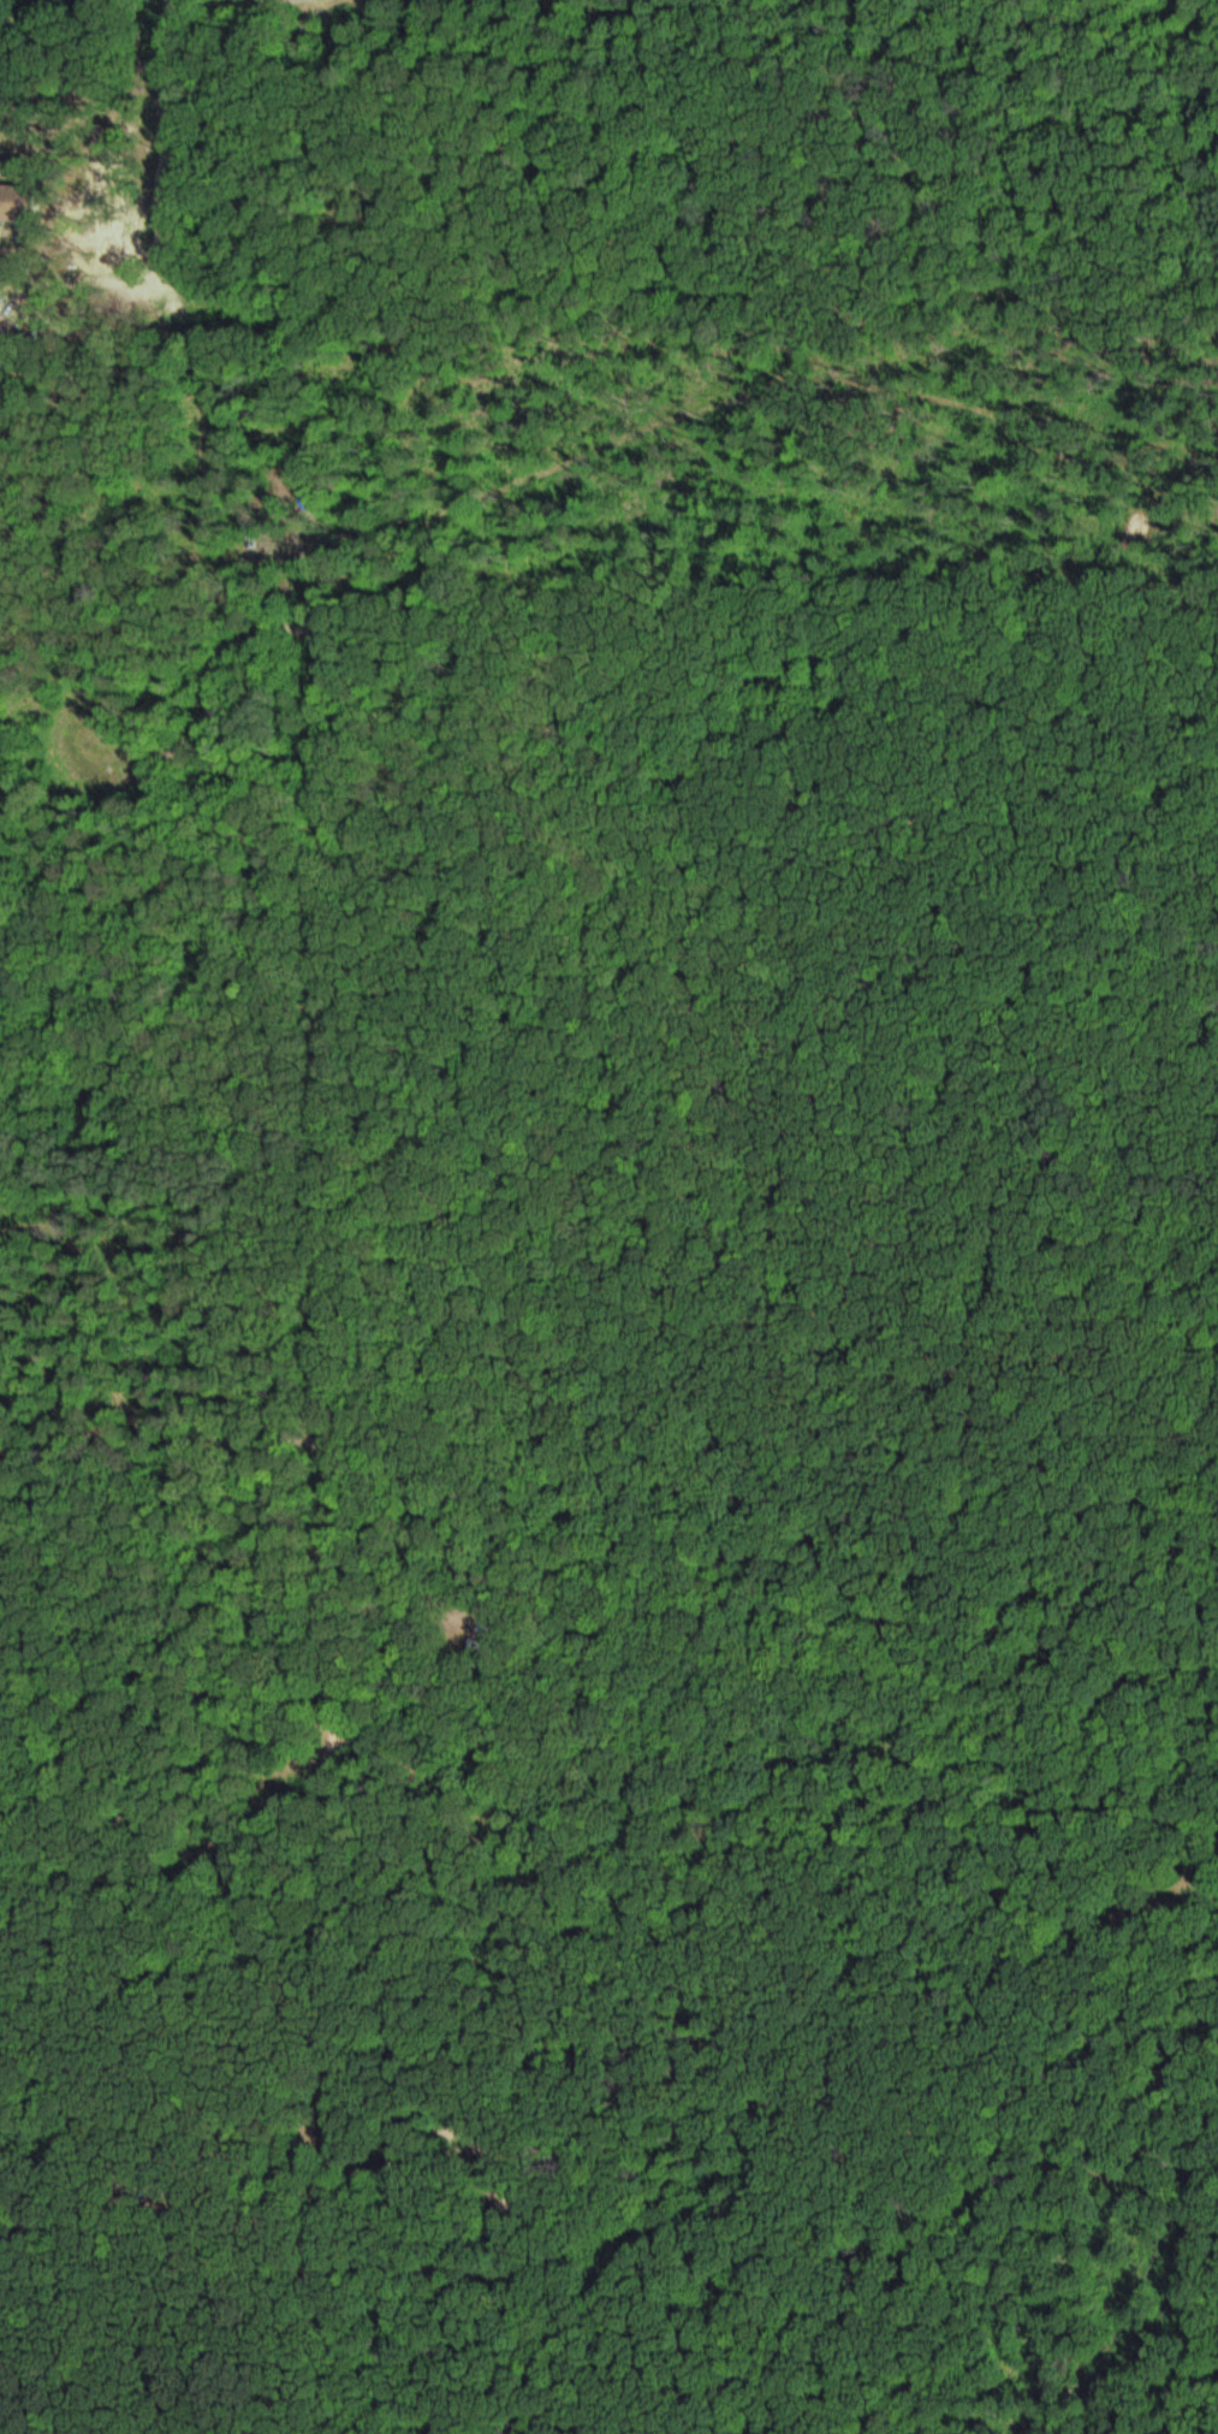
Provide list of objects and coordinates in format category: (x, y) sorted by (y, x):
road: (50, 24)
road: (185, 191)
building: (0, 310)
road: (345, 1544)

